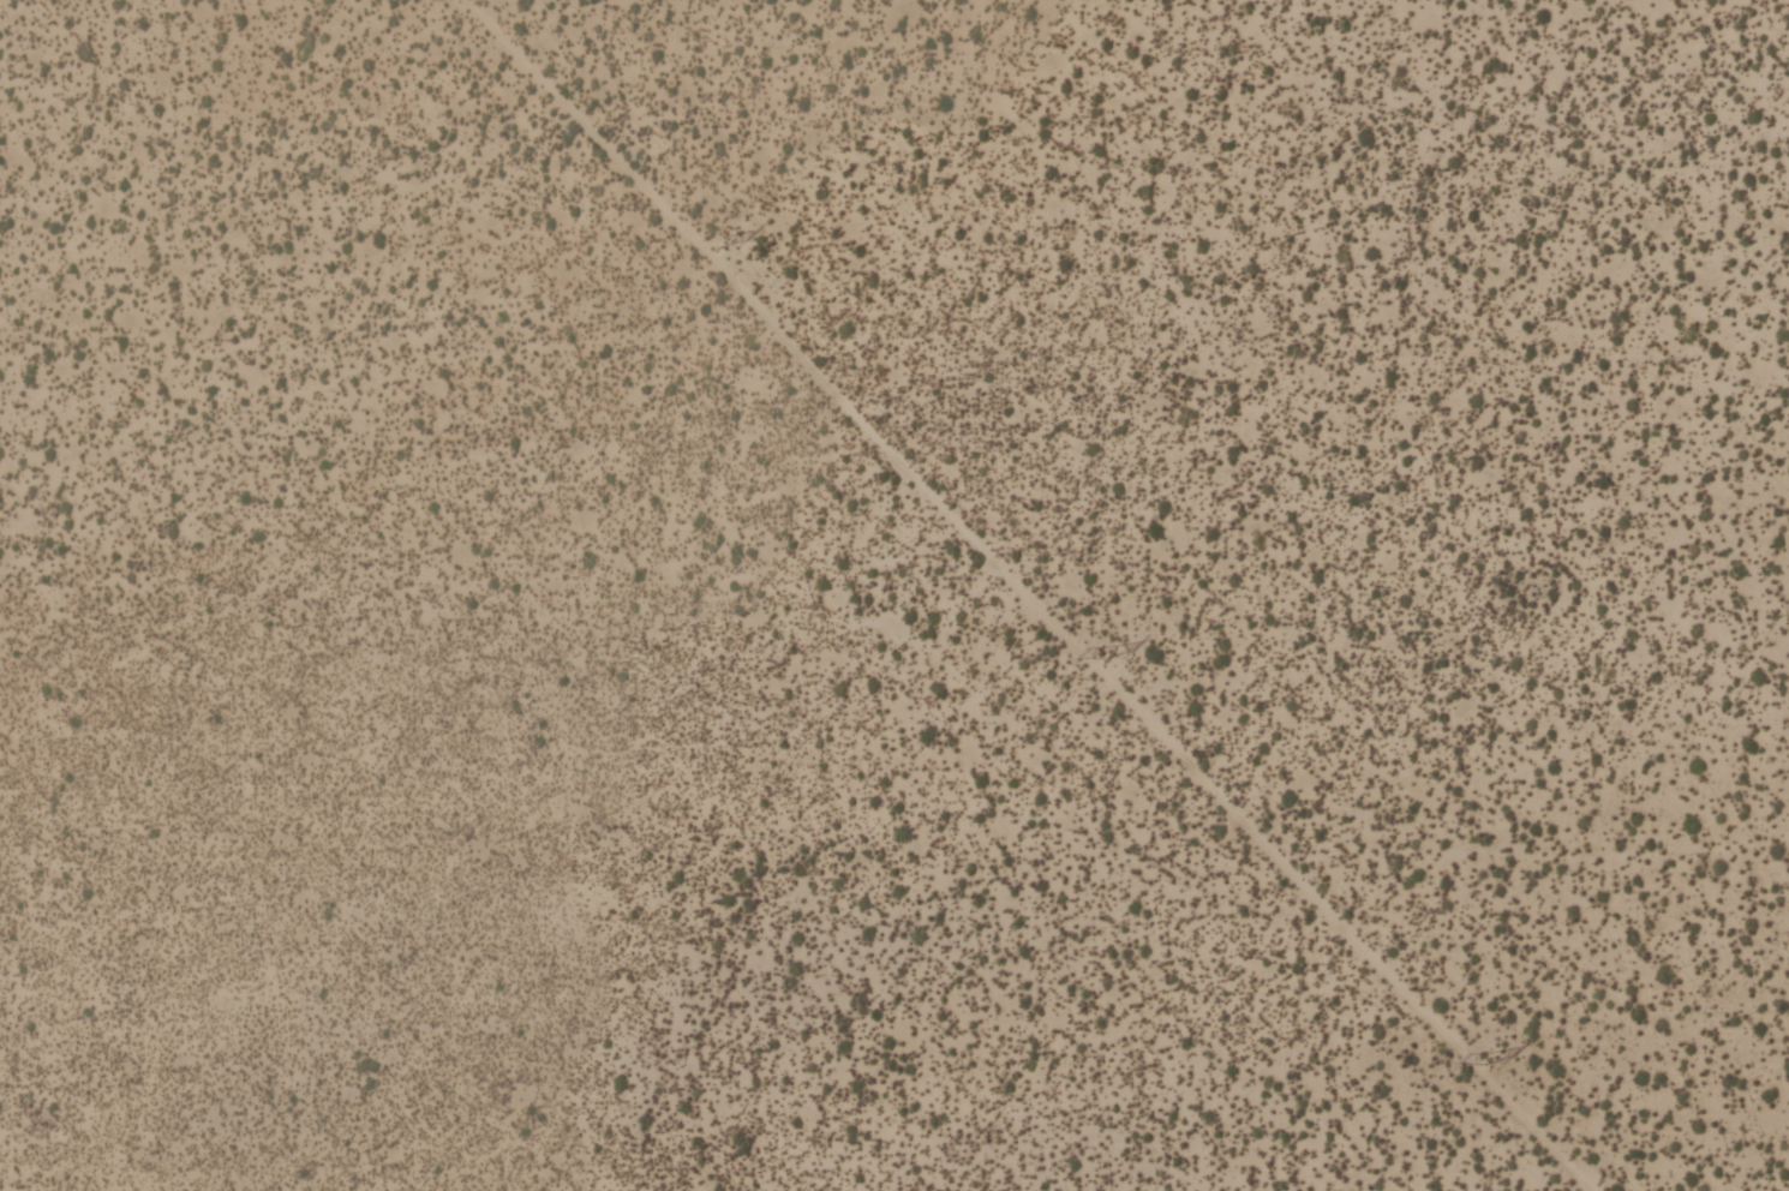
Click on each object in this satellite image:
power tower: (720, 238)
road: (1017, 595)
power tower: (1107, 652)
power tower: (1490, 1055)

